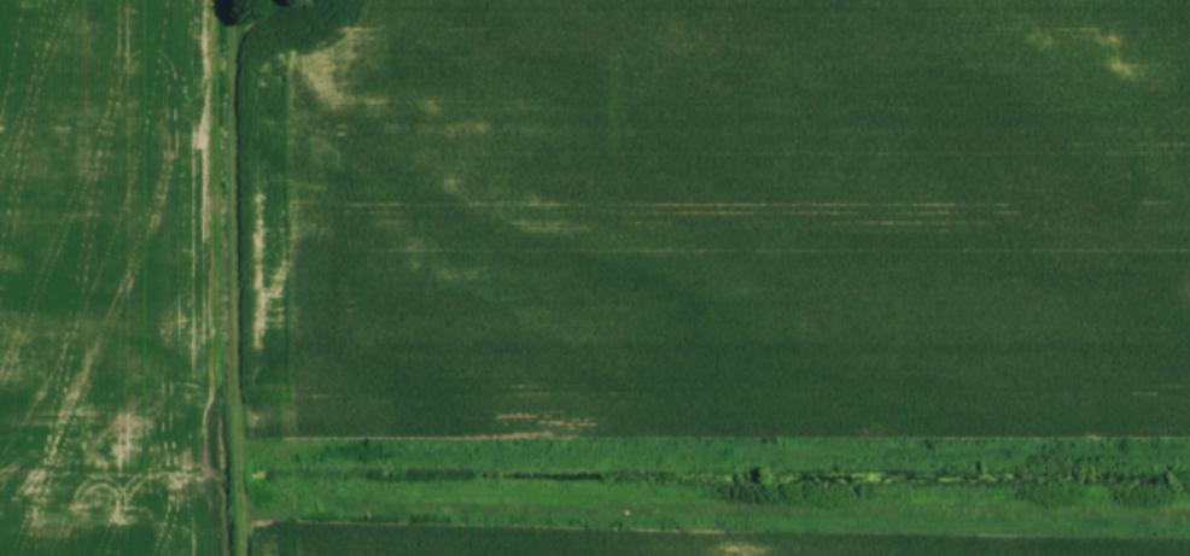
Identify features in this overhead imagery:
road: (235, 322)

